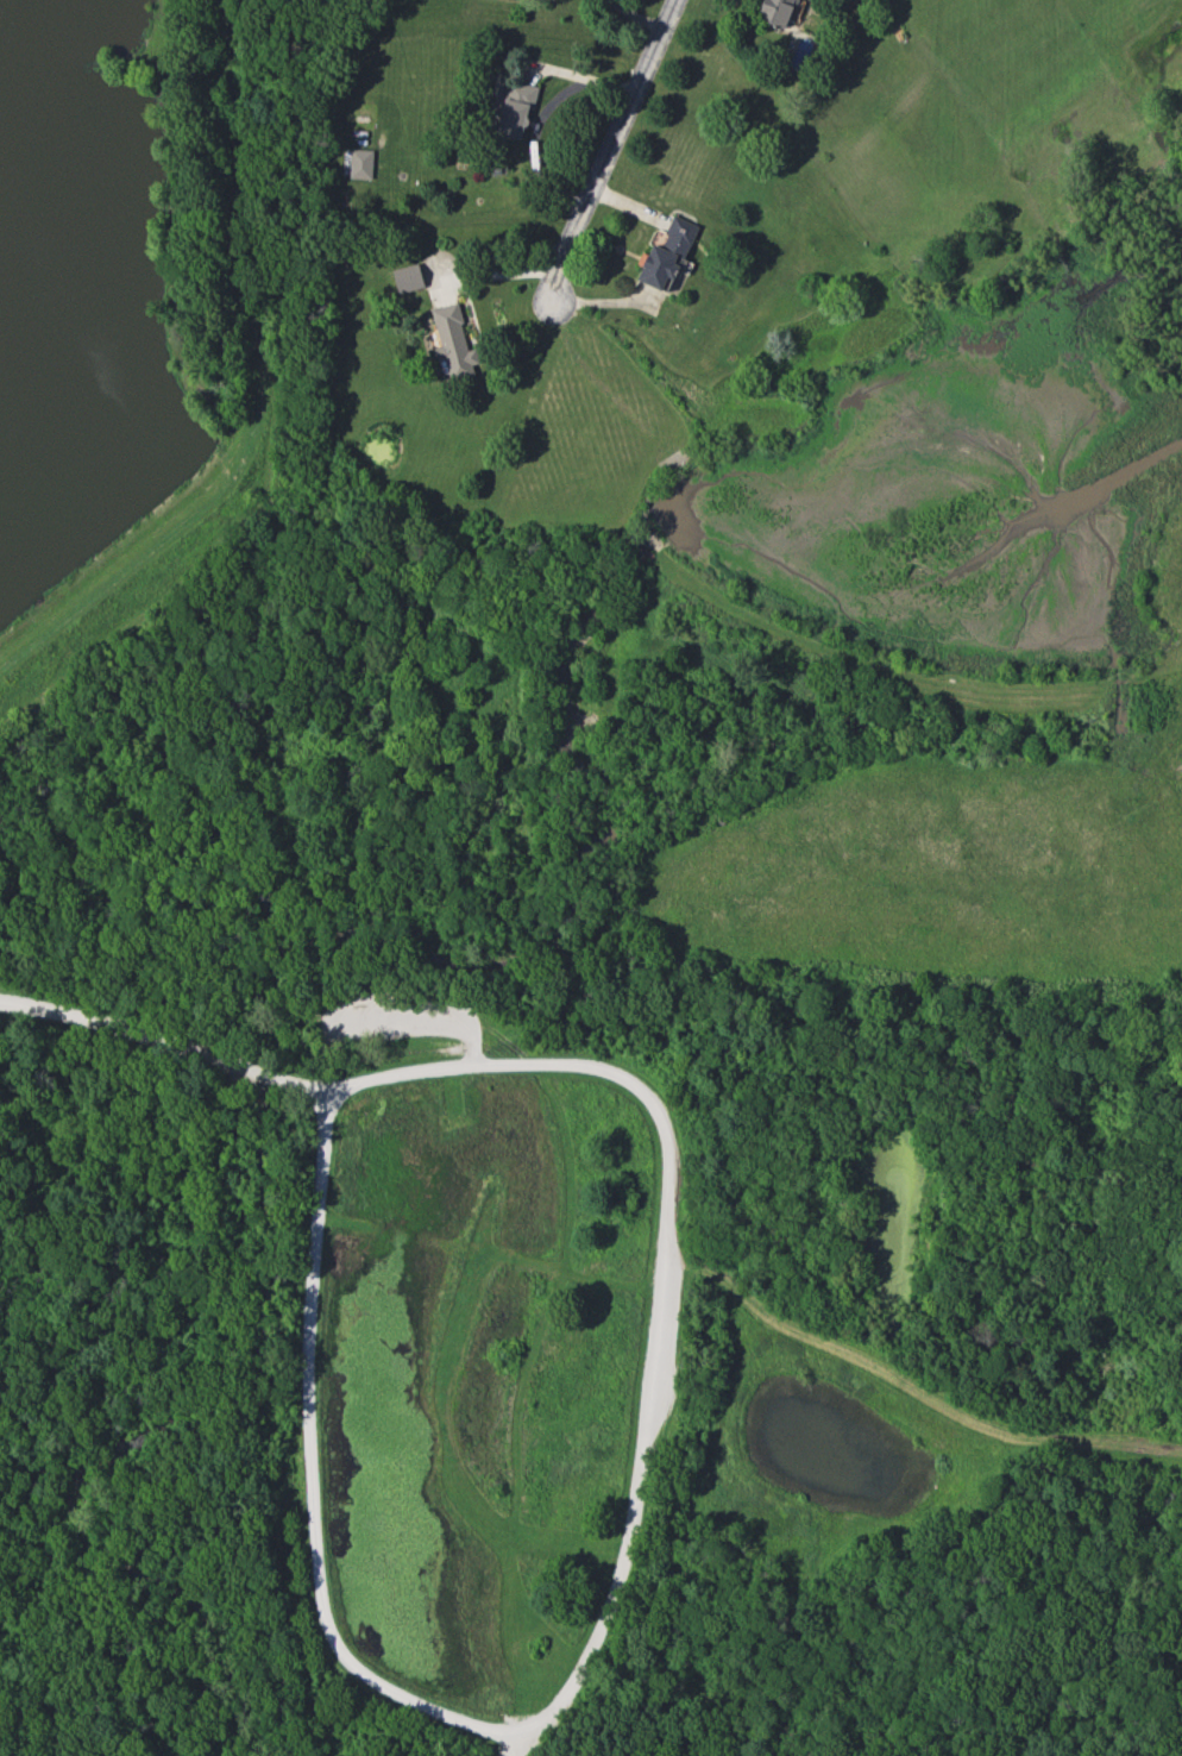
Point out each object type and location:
building: (777, 12)
road: (636, 14)
building: (515, 108)
road: (608, 146)
building: (360, 164)
building: (667, 255)
road: (493, 276)
building: (407, 278)
building: (453, 341)
road: (268, 412)
road: (415, 1016)
parking lot: (432, 1024)
road: (165, 1041)
park: (476, 1143)
road: (63, 1575)
road: (593, 1642)
road: (515, 1748)
parking lot: (508, 1755)

